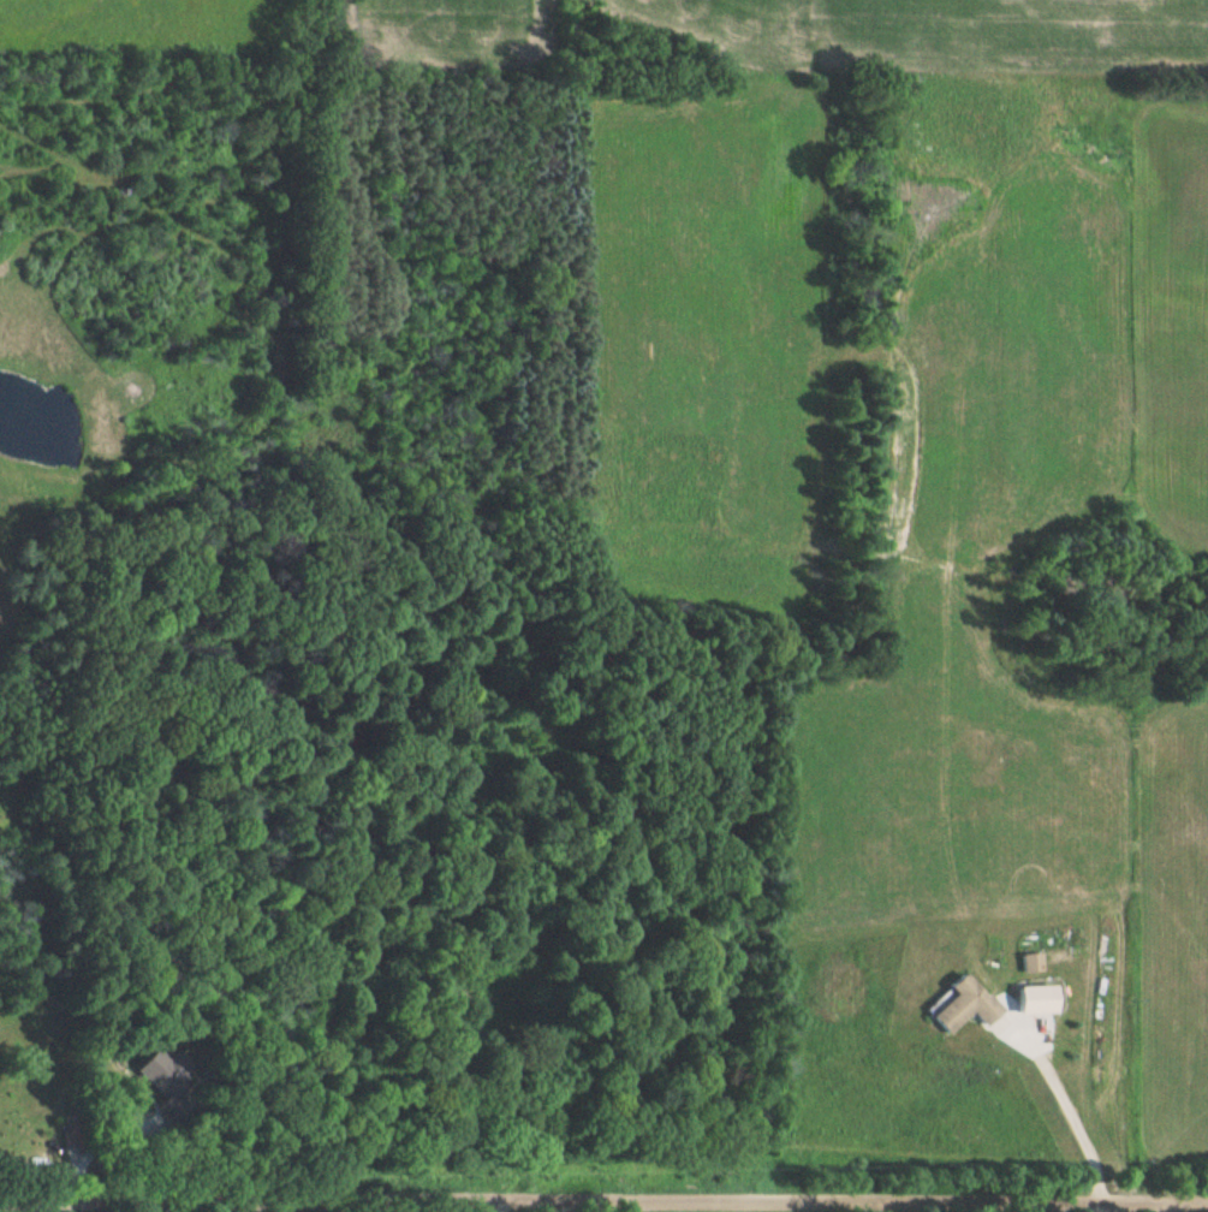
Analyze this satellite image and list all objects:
building: (1026, 962)
building: (959, 1005)
building: (149, 1074)
road: (1066, 1116)
road: (603, 1192)

